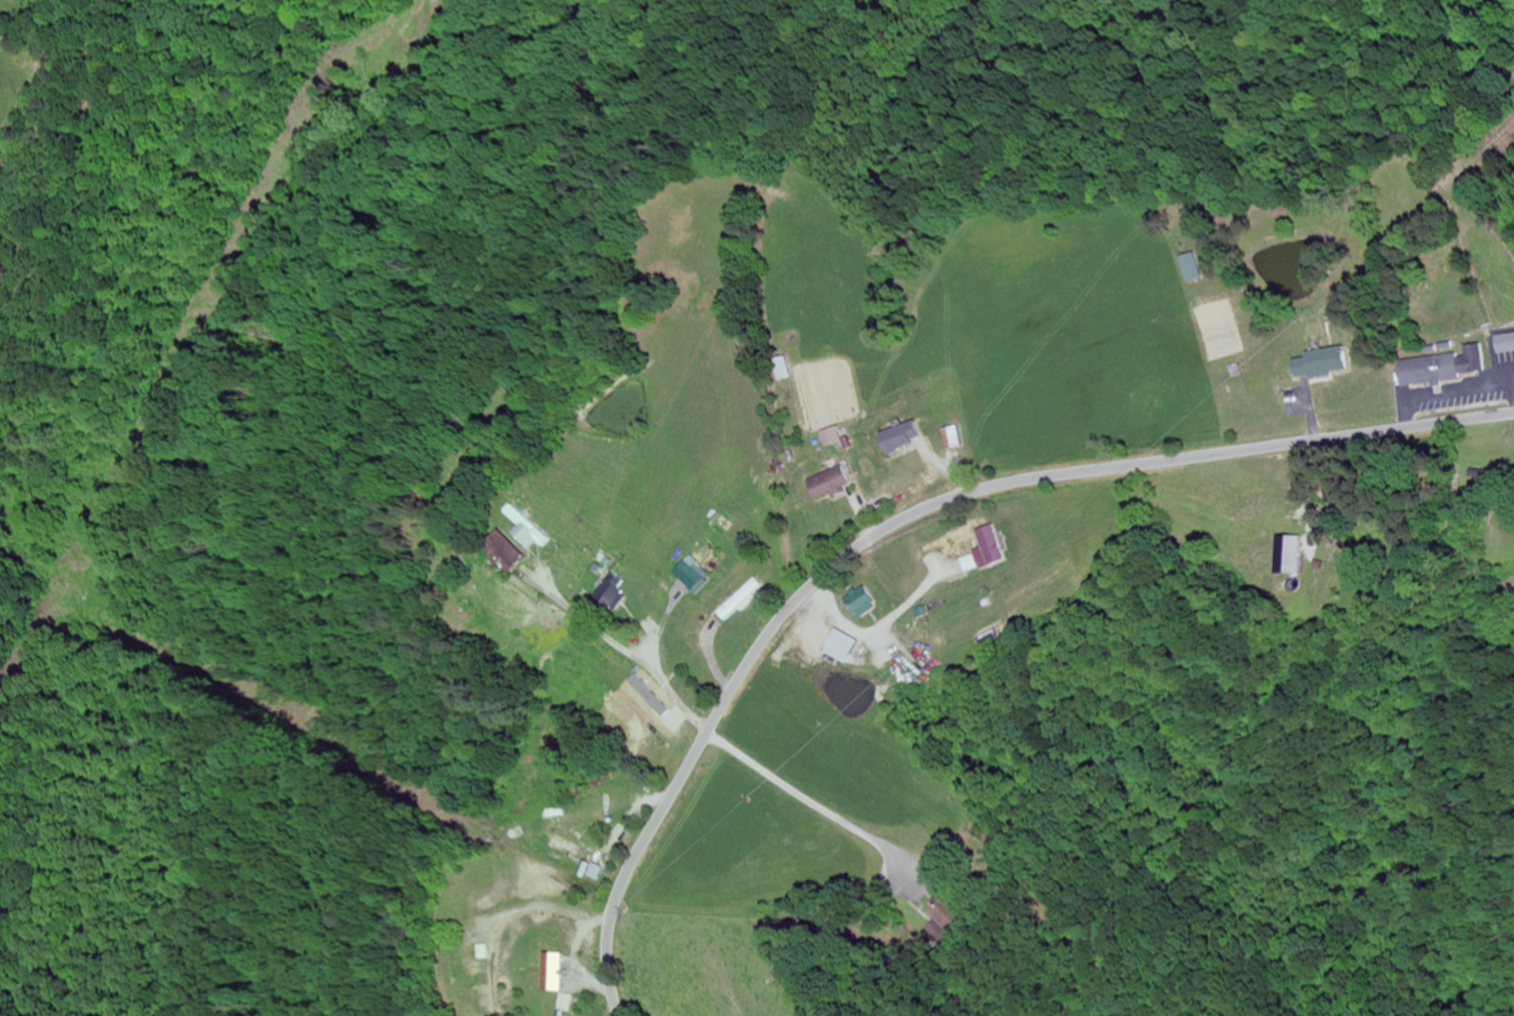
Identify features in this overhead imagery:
building: (1194, 268)
building: (1321, 364)
building: (1445, 367)
building: (833, 437)
building: (954, 438)
building: (908, 451)
building: (828, 485)
building: (1272, 499)
road: (912, 514)
building: (529, 532)
building: (990, 545)
building: (505, 553)
building: (689, 576)
building: (741, 601)
building: (860, 603)
building: (995, 641)
building: (841, 647)
building: (572, 847)
road: (884, 954)
building: (554, 978)
building: (567, 1004)

